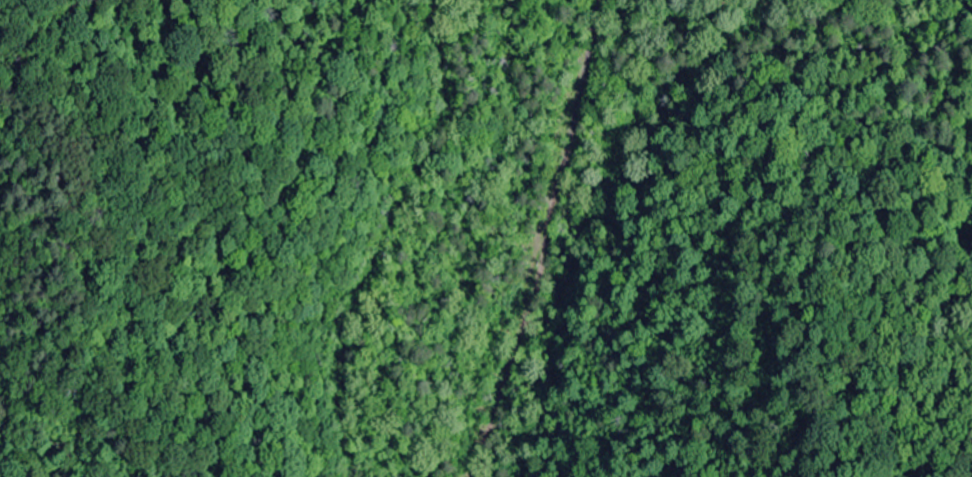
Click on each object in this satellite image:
road: (747, 44)
road: (486, 248)

